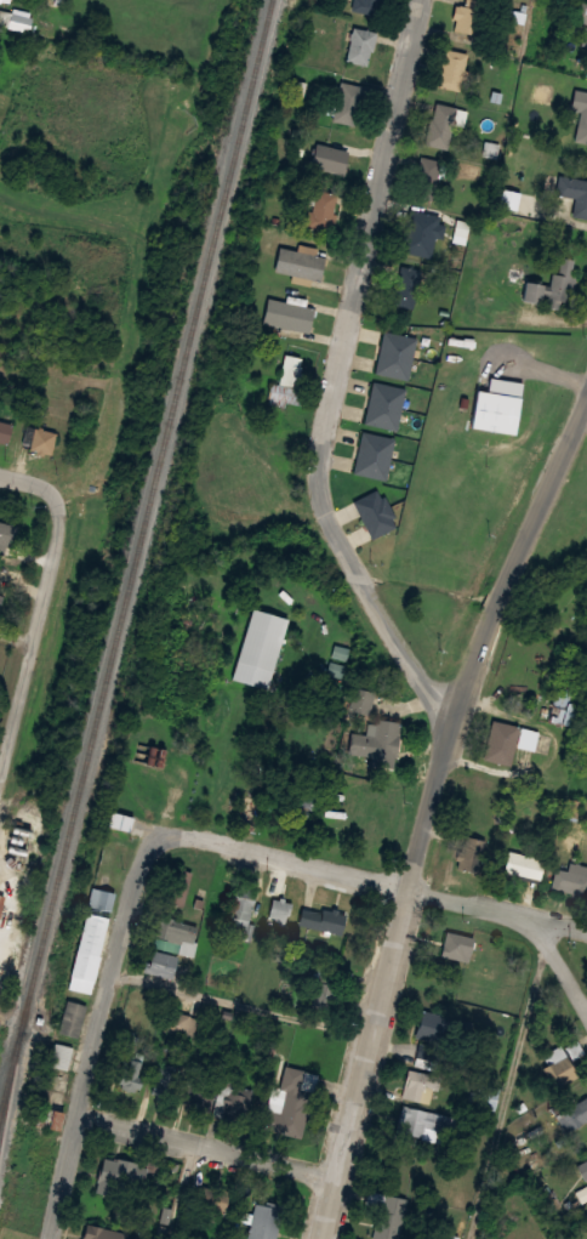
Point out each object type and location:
building: (0, 0)
building: (366, 6)
building: (581, 13)
building: (466, 16)
building: (360, 45)
building: (451, 69)
building: (579, 100)
building: (348, 102)
building: (440, 125)
building: (586, 142)
building: (337, 157)
building: (427, 177)
building: (574, 193)
building: (324, 209)
road: (371, 217)
building: (416, 232)
building: (300, 262)
building: (554, 285)
building: (406, 286)
building: (290, 312)
building: (395, 354)
building: (286, 382)
building: (384, 404)
building: (492, 410)
building: (4, 430)
building: (40, 438)
building: (374, 455)
road: (33, 479)
building: (6, 533)
railway: (136, 559)
road: (518, 561)
road: (366, 585)
road: (18, 637)
road: (35, 643)
building: (258, 648)
building: (565, 688)
building: (500, 741)
building: (374, 748)
building: (152, 755)
building: (300, 807)
building: (250, 813)
building: (120, 820)
building: (472, 854)
building: (522, 864)
road: (369, 870)
building: (571, 879)
building: (179, 886)
building: (102, 898)
building: (1, 900)
building: (241, 900)
building: (279, 909)
building: (321, 920)
building: (175, 936)
building: (457, 947)
building: (89, 951)
building: (503, 956)
road: (562, 960)
building: (161, 962)
road: (384, 976)
building: (293, 981)
building: (329, 991)
road: (243, 1004)
building: (72, 1018)
building: (179, 1022)
building: (439, 1027)
road: (101, 1028)
building: (126, 1036)
building: (62, 1056)
building: (428, 1056)
building: (560, 1063)
building: (129, 1074)
building: (165, 1079)
building: (420, 1085)
building: (200, 1089)
road: (513, 1092)
railway: (10, 1095)
building: (488, 1096)
building: (232, 1098)
building: (290, 1101)
building: (574, 1114)
building: (50, 1119)
building: (424, 1121)
road: (209, 1147)
building: (582, 1169)
building: (125, 1175)
road: (186, 1192)
building: (210, 1198)
building: (386, 1214)
building: (263, 1221)
building: (101, 1233)

